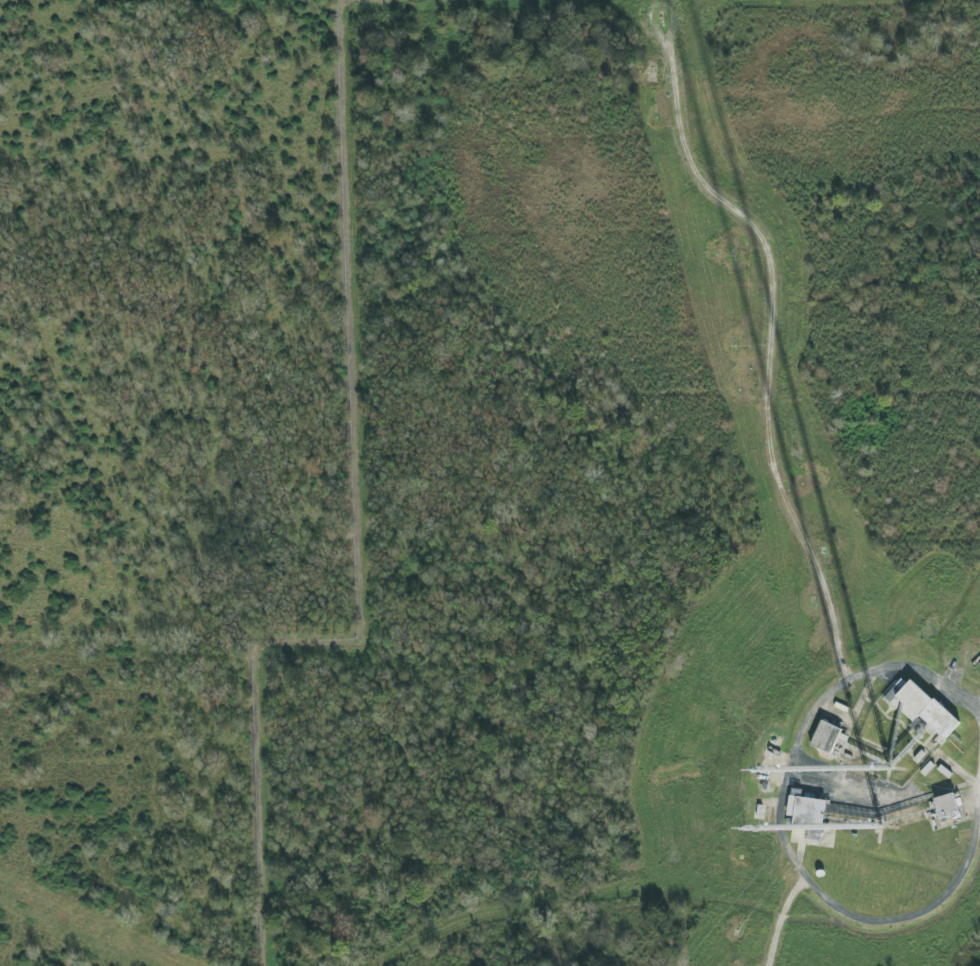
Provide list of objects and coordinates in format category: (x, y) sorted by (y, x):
building: (922, 709)
building: (826, 737)
building: (947, 806)
building: (806, 813)
road: (780, 828)

